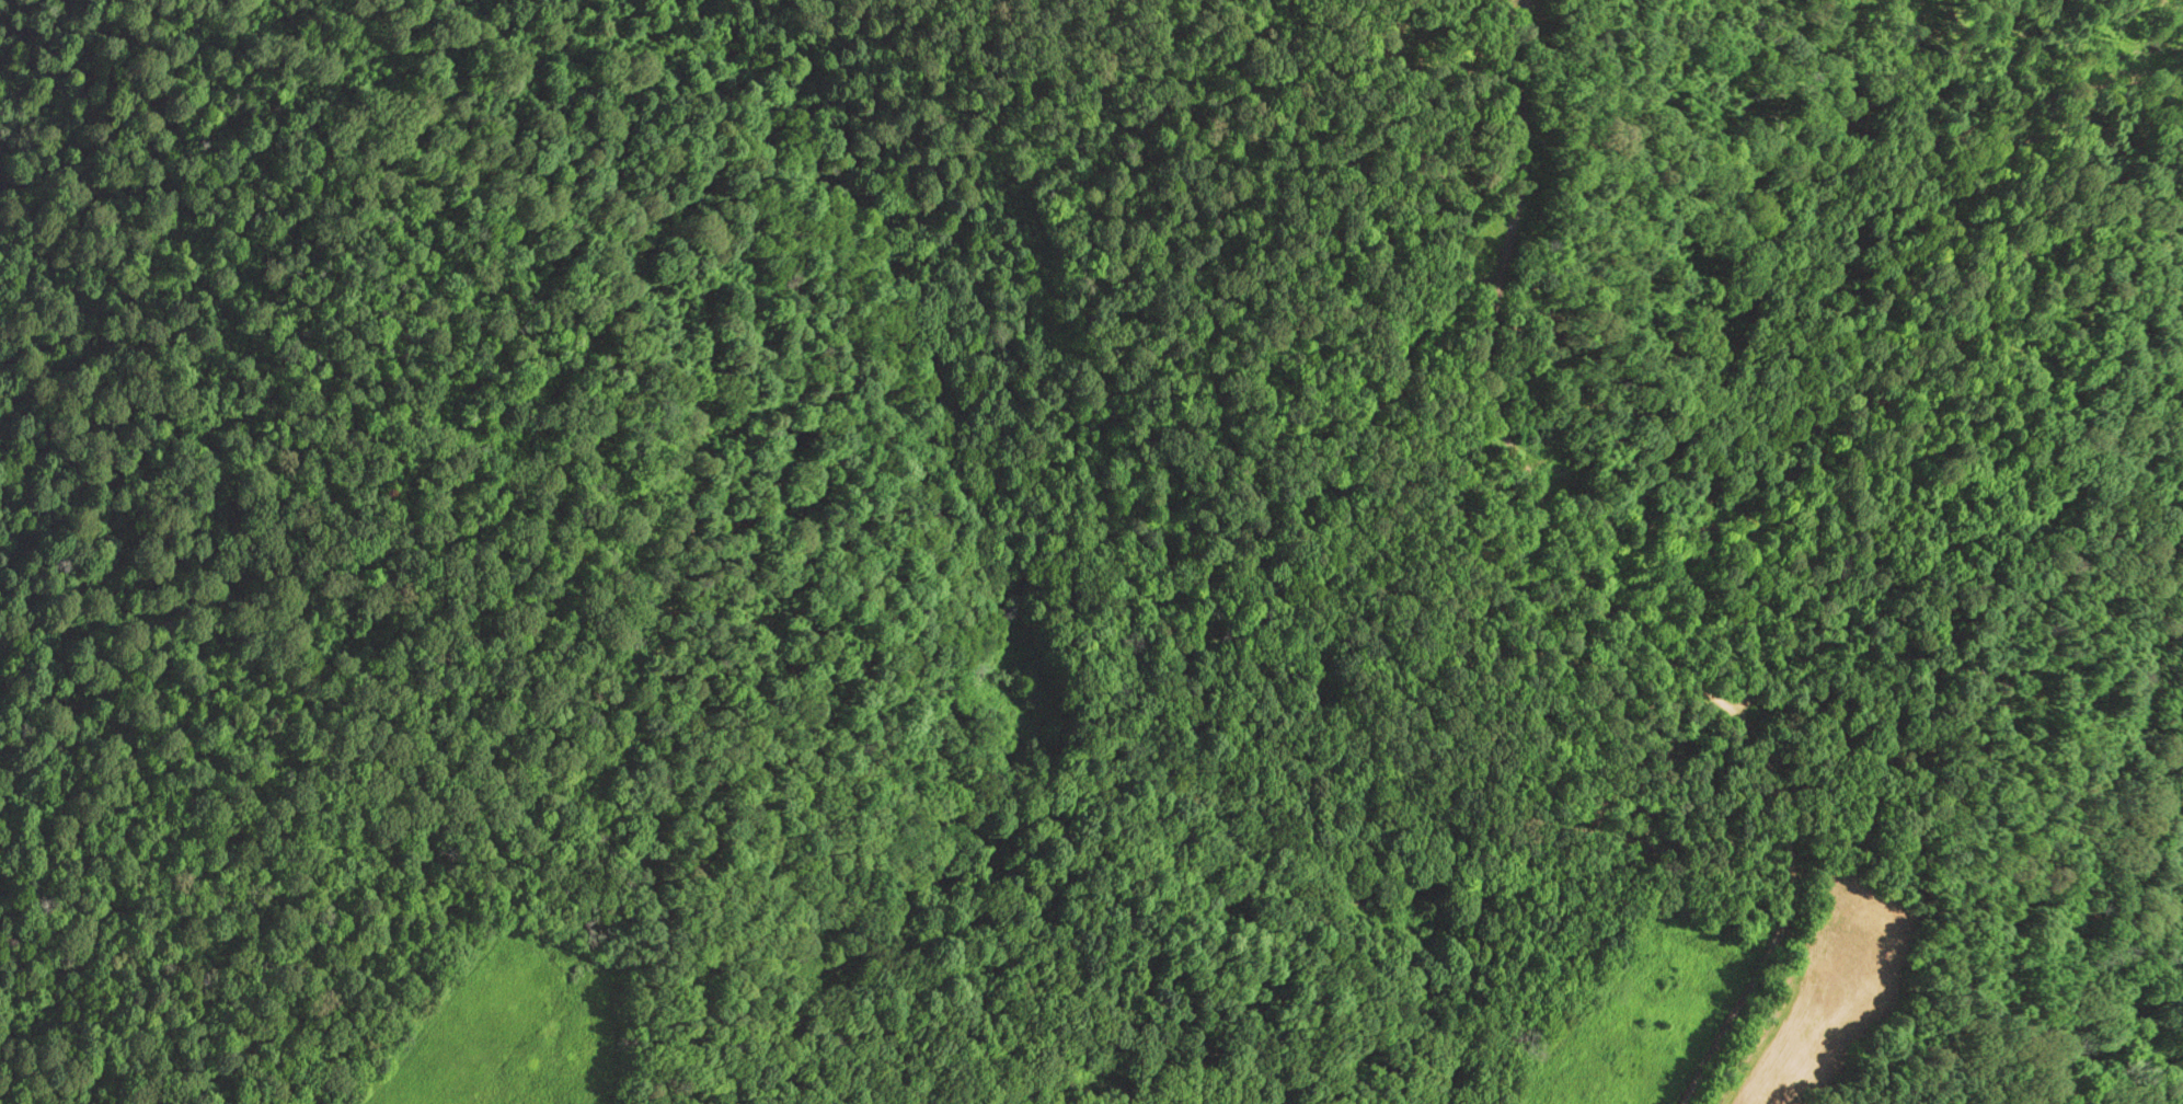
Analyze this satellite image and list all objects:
road: (1581, 580)

